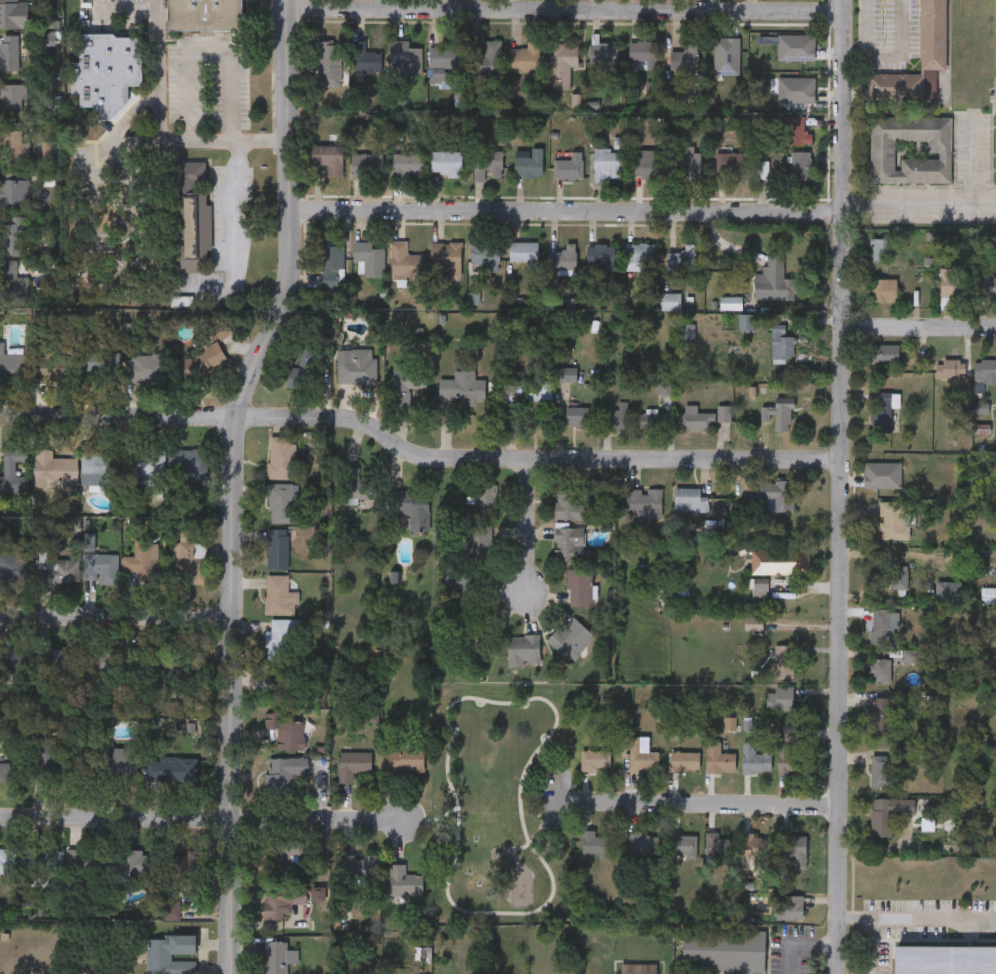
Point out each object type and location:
road: (376, 4)
road: (445, 4)
road: (124, 7)
road: (563, 9)
building: (13, 14)
building: (205, 14)
building: (932, 35)
road: (208, 49)
building: (10, 53)
building: (644, 53)
road: (896, 54)
building: (447, 56)
building: (405, 57)
building: (684, 57)
building: (524, 58)
building: (603, 58)
building: (367, 59)
building: (486, 59)
building: (561, 64)
building: (328, 65)
building: (106, 71)
road: (156, 71)
building: (780, 83)
building: (13, 98)
road: (130, 114)
building: (796, 131)
building: (14, 144)
building: (882, 145)
building: (995, 149)
building: (321, 154)
road: (970, 160)
building: (730, 162)
building: (407, 163)
building: (446, 163)
building: (365, 164)
building: (487, 164)
building: (529, 164)
building: (608, 164)
building: (648, 164)
building: (685, 164)
building: (569, 166)
building: (800, 166)
building: (14, 194)
road: (918, 202)
road: (89, 208)
road: (563, 211)
building: (188, 216)
building: (12, 237)
road: (231, 239)
building: (881, 248)
building: (485, 252)
building: (524, 252)
building: (601, 255)
building: (639, 256)
building: (563, 257)
building: (369, 258)
building: (445, 258)
building: (681, 258)
building: (404, 261)
building: (332, 265)
building: (774, 281)
building: (11, 282)
building: (951, 282)
building: (987, 286)
building: (884, 290)
building: (731, 302)
building: (746, 322)
road: (917, 326)
building: (782, 343)
building: (884, 353)
building: (101, 363)
building: (55, 364)
building: (11, 365)
building: (144, 367)
building: (357, 367)
building: (952, 367)
building: (303, 368)
building: (985, 371)
building: (566, 373)
building: (407, 382)
building: (463, 387)
building: (527, 388)
building: (724, 411)
building: (887, 411)
building: (778, 412)
building: (577, 415)
building: (620, 415)
building: (695, 416)
building: (652, 419)
road: (415, 454)
building: (283, 456)
building: (189, 460)
building: (144, 461)
building: (54, 466)
building: (98, 468)
building: (891, 468)
building: (13, 481)
road: (230, 481)
building: (357, 483)
road: (837, 486)
building: (779, 493)
building: (690, 499)
building: (483, 501)
building: (283, 502)
building: (644, 502)
building: (410, 505)
building: (570, 505)
building: (894, 519)
road: (526, 525)
building: (569, 543)
building: (277, 548)
building: (187, 561)
building: (780, 561)
building: (145, 562)
building: (101, 566)
building: (476, 567)
building: (57, 568)
building: (898, 579)
building: (579, 586)
building: (948, 593)
building: (280, 594)
road: (115, 614)
building: (881, 625)
building: (474, 636)
building: (568, 637)
building: (281, 640)
building: (524, 650)
building: (784, 660)
building: (57, 661)
building: (97, 662)
building: (143, 662)
building: (5, 666)
building: (881, 669)
building: (280, 685)
building: (782, 698)
building: (883, 715)
building: (285, 731)
building: (639, 756)
building: (404, 758)
building: (719, 758)
building: (52, 759)
building: (756, 759)
building: (791, 759)
building: (596, 760)
building: (684, 760)
building: (352, 764)
building: (116, 765)
building: (169, 768)
building: (3, 770)
building: (884, 771)
building: (278, 775)
parking lot: (556, 796)
road: (558, 797)
road: (566, 798)
park: (500, 799)
road: (705, 802)
building: (888, 813)
road: (432, 818)
road: (201, 820)
road: (540, 825)
building: (594, 843)
building: (643, 843)
building: (683, 844)
building: (718, 845)
building: (754, 845)
building: (796, 849)
road: (539, 856)
building: (87, 858)
building: (7, 859)
building: (39, 861)
building: (135, 861)
building: (183, 866)
building: (358, 866)
building: (403, 880)
building: (281, 902)
building: (790, 907)
building: (171, 908)
road: (933, 916)
road: (869, 927)
road: (801, 944)
building: (725, 949)
building: (170, 954)
building: (279, 957)
building: (945, 958)
building: (638, 968)

